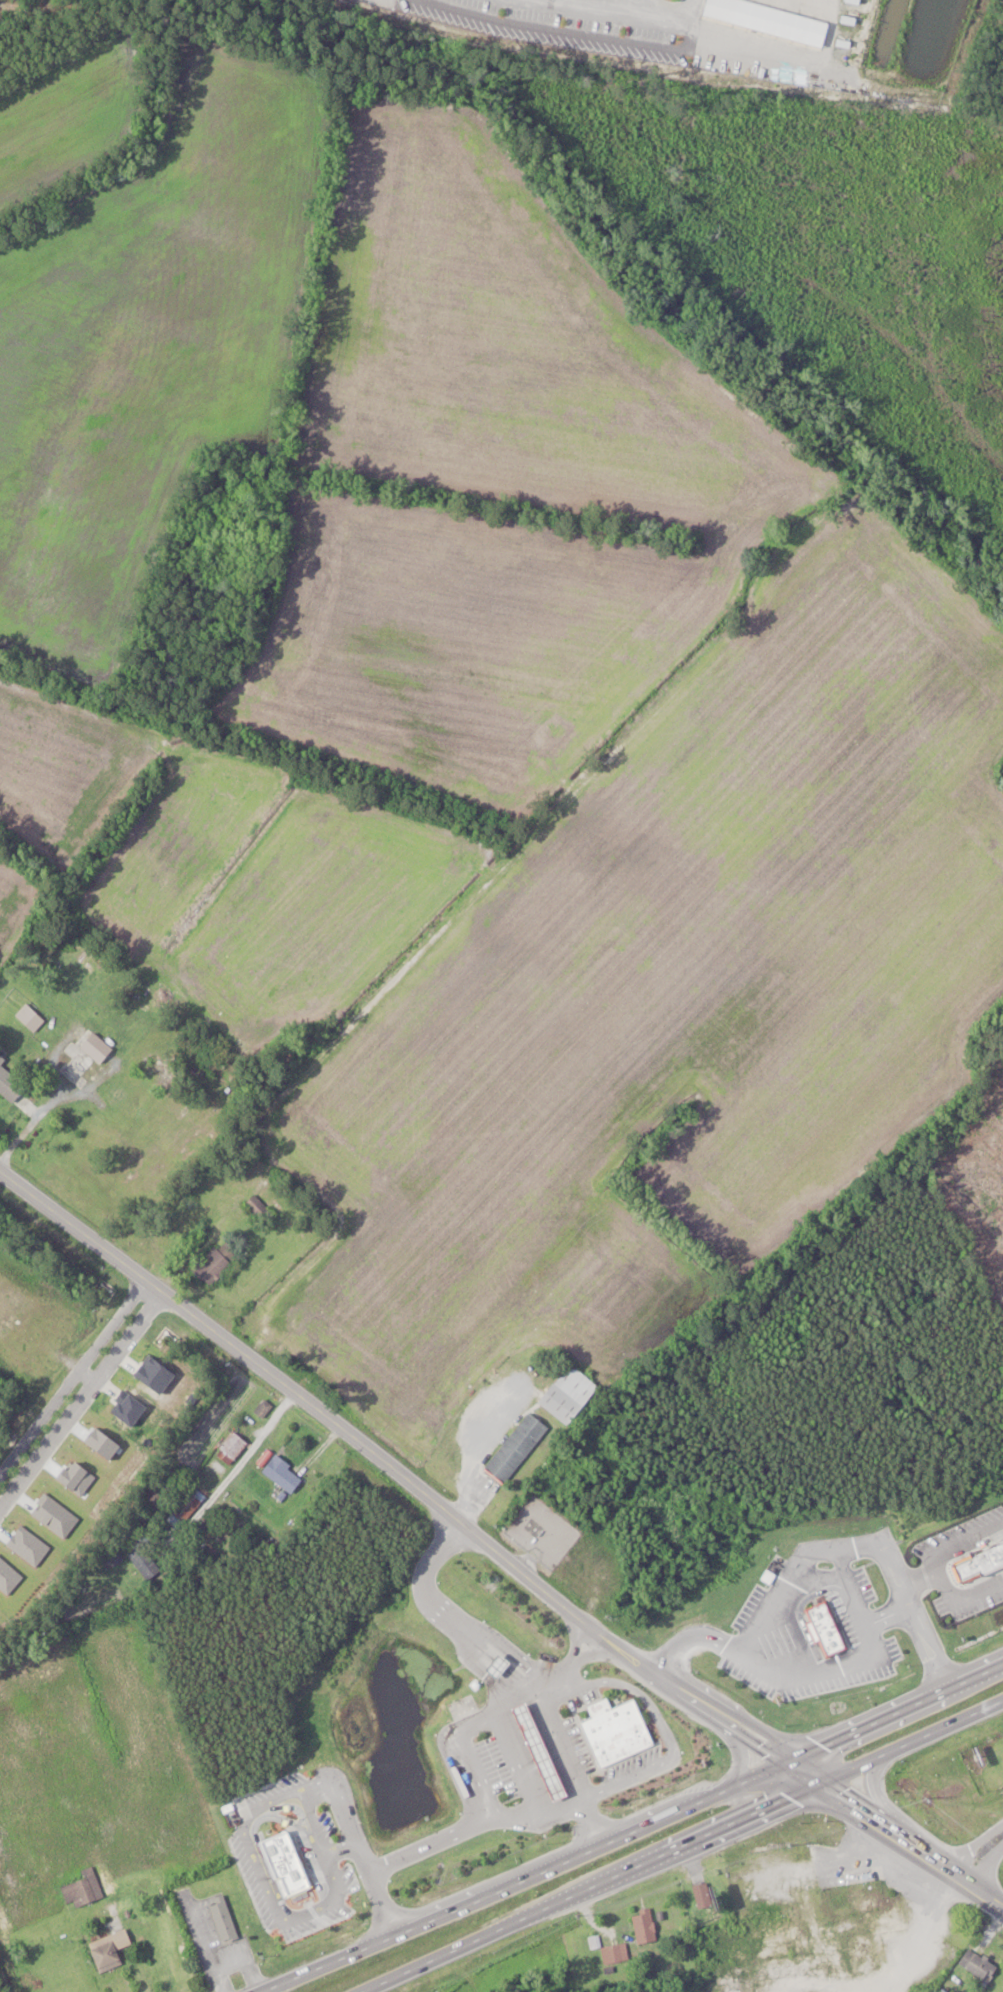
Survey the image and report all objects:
road: (650, 12)
building: (89, 1054)
building: (11, 1081)
building: (217, 1263)
road: (78, 1387)
building: (570, 1394)
building: (264, 1408)
building: (235, 1445)
building: (517, 1448)
road: (390, 1466)
road: (237, 1471)
building: (285, 1474)
building: (186, 1506)
road: (960, 1541)
building: (145, 1562)
road: (944, 1580)
road: (448, 1618)
building: (828, 1628)
road: (572, 1632)
road: (832, 1668)
road: (546, 1706)
building: (618, 1730)
building: (541, 1744)
traffic signals: (783, 1761)
traffic signals: (820, 1785)
road: (456, 1828)
road: (638, 1828)
road: (893, 1835)
road: (685, 1846)
road: (981, 1857)
building: (813, 1876)
building: (85, 1889)
building: (703, 1895)
building: (853, 1899)
building: (774, 1912)
building: (224, 1919)
building: (3, 1922)
building: (645, 1926)
building: (112, 1950)
building: (725, 1951)
building: (859, 1952)
building: (982, 1967)
road: (139, 1979)
building: (810, 1991)

